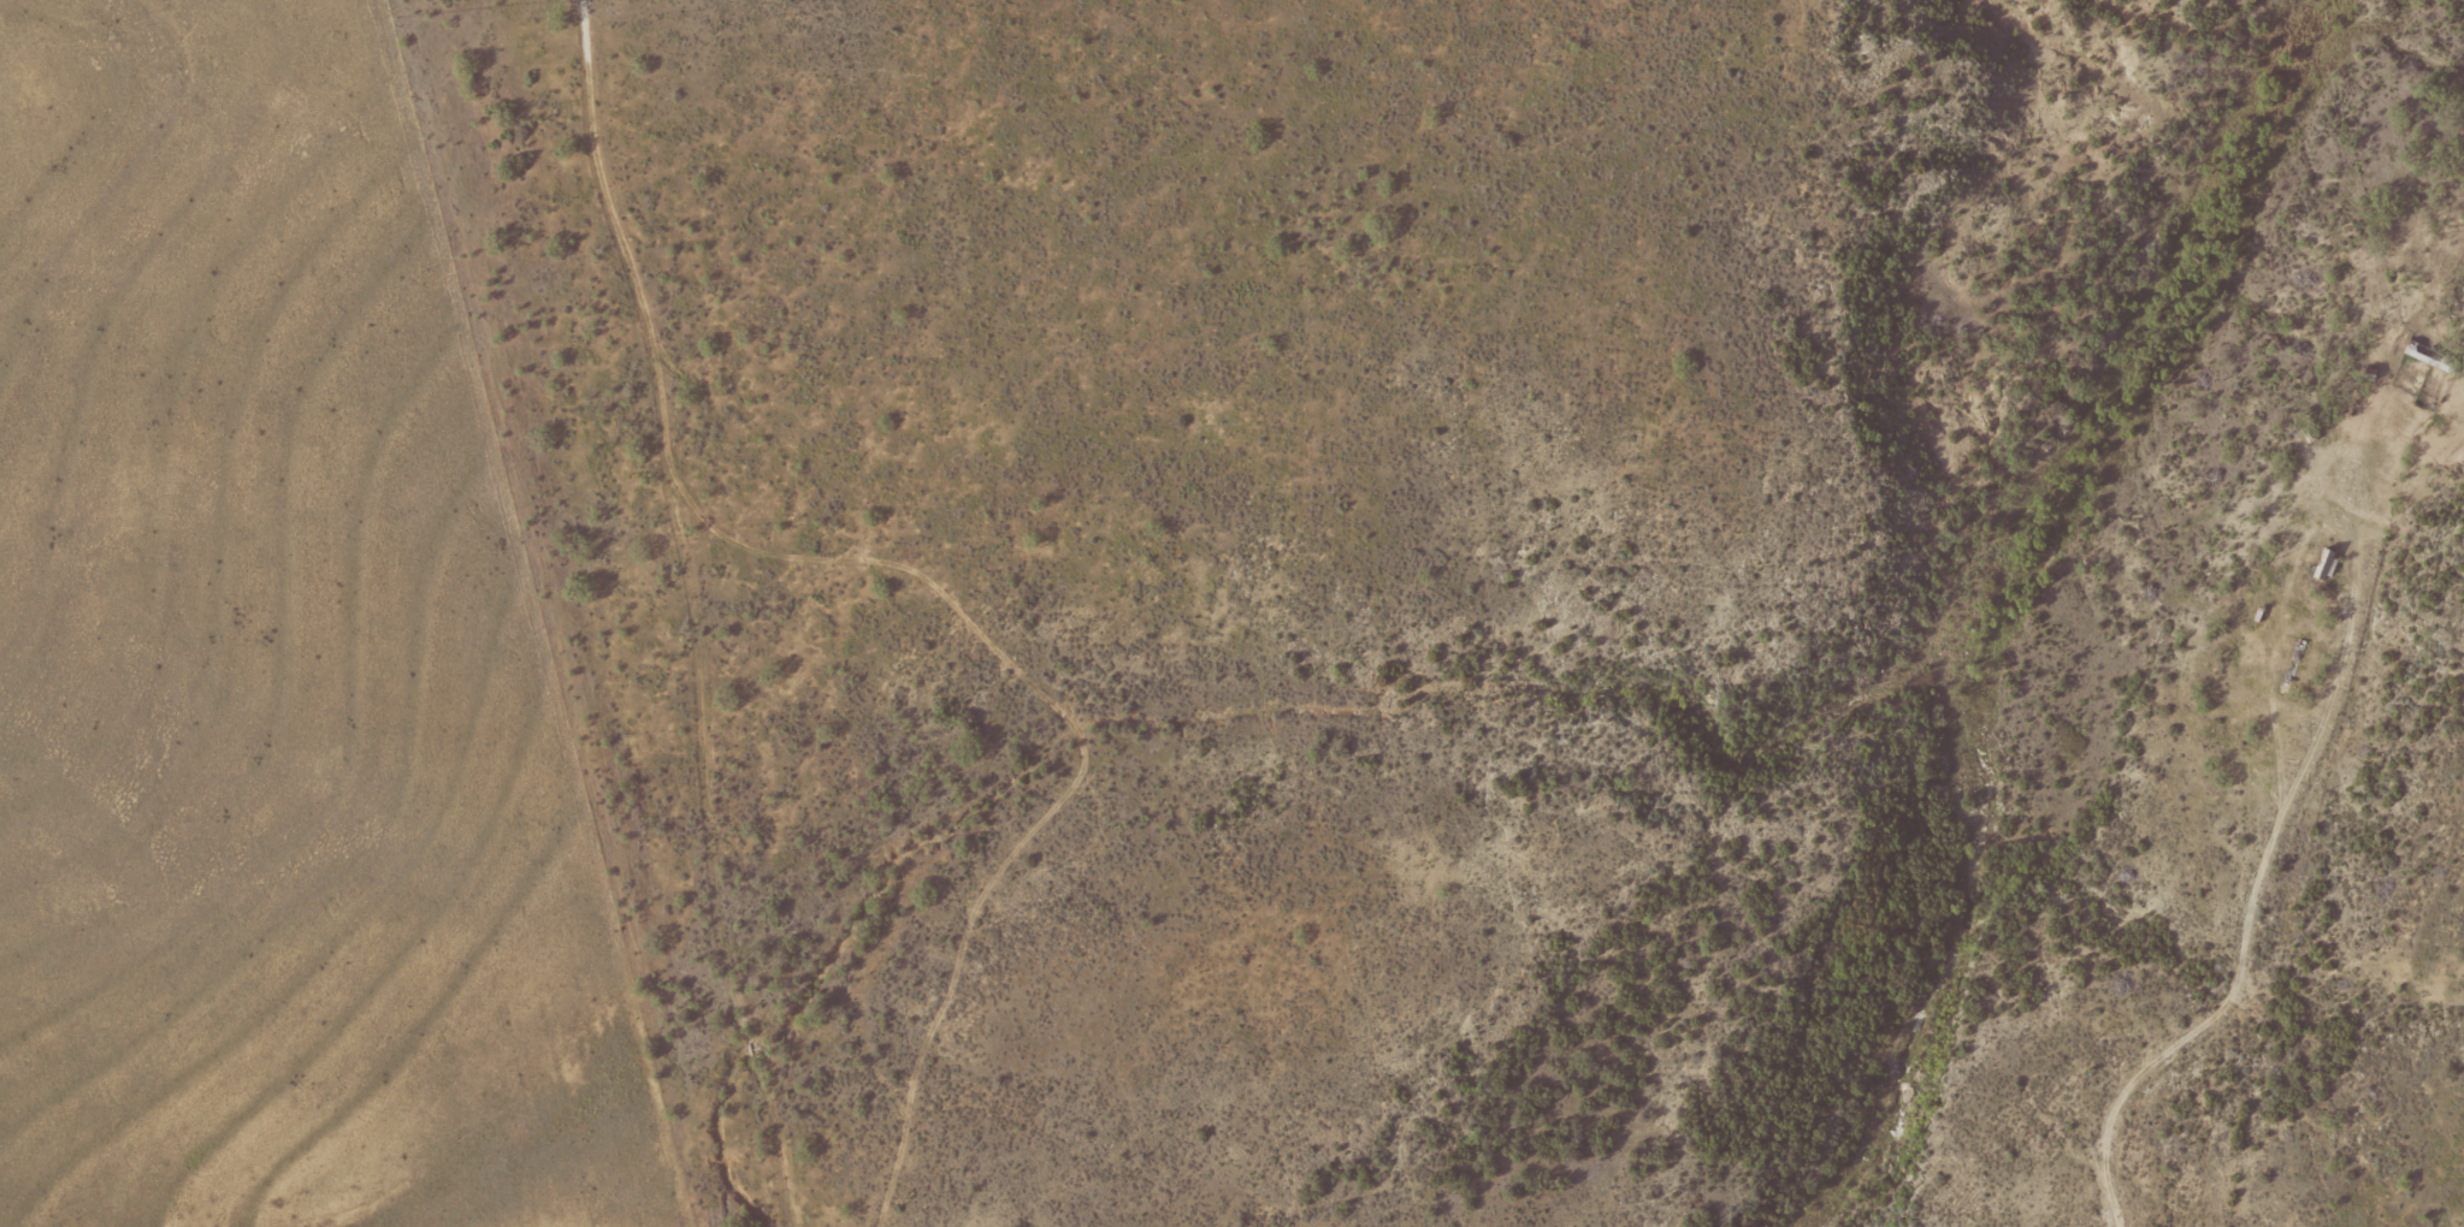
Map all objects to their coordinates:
road: (2191, 931)

